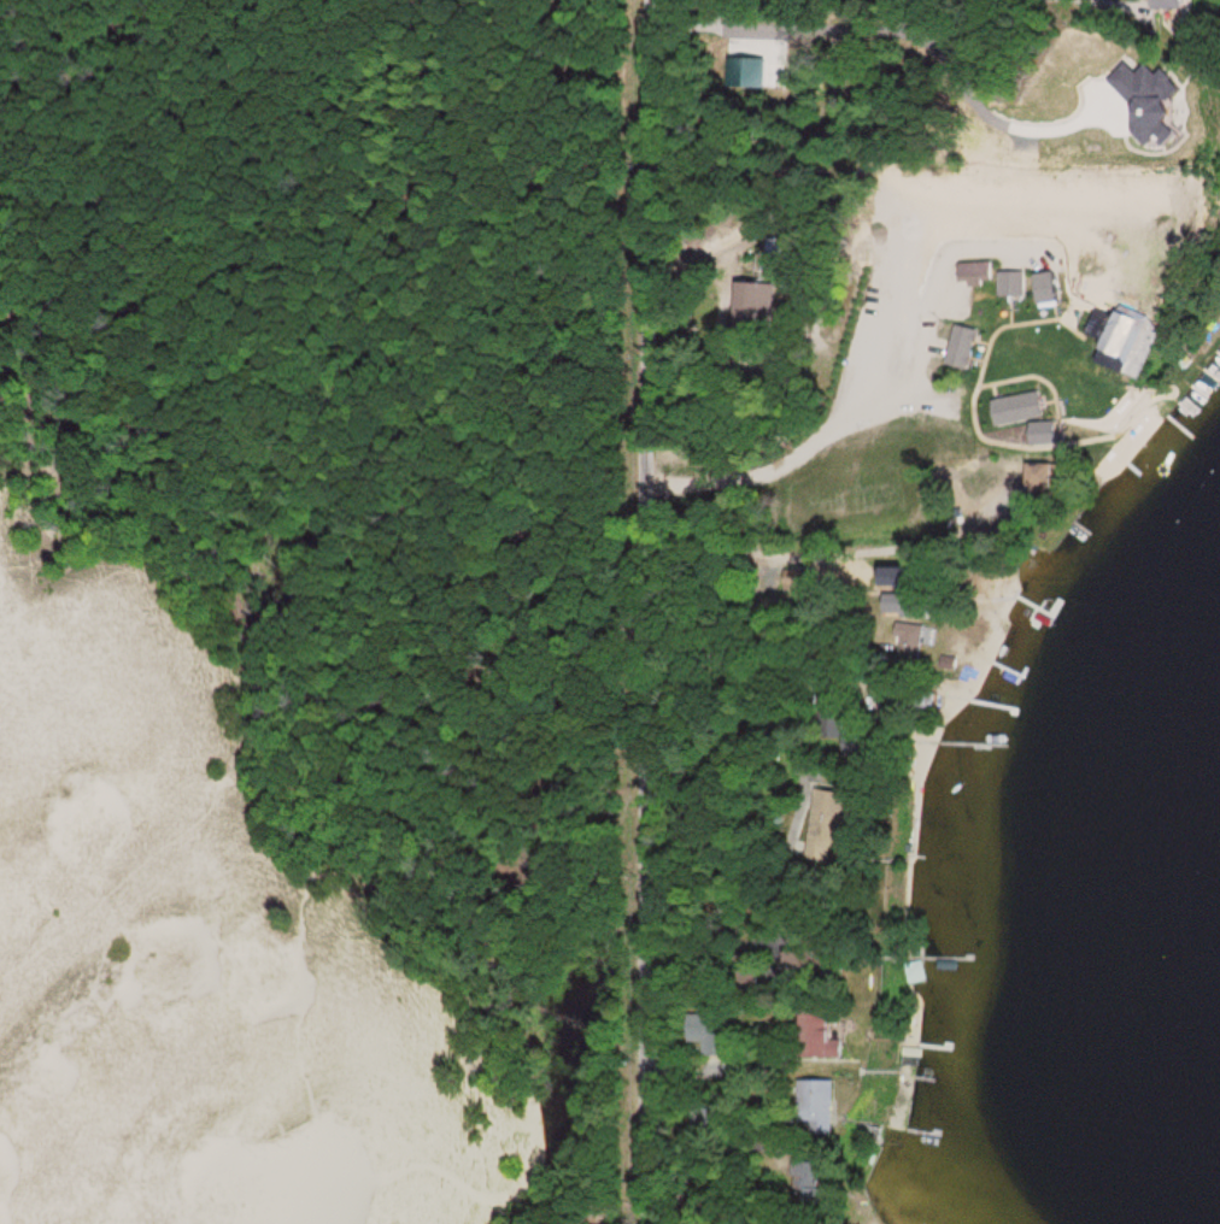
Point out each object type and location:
building: (1193, 4)
road: (973, 116)
building: (1015, 284)
building: (1114, 325)
building: (907, 607)
park: (311, 610)
road: (652, 612)
road: (772, 673)
building: (828, 1034)
building: (709, 1035)
building: (826, 1104)

